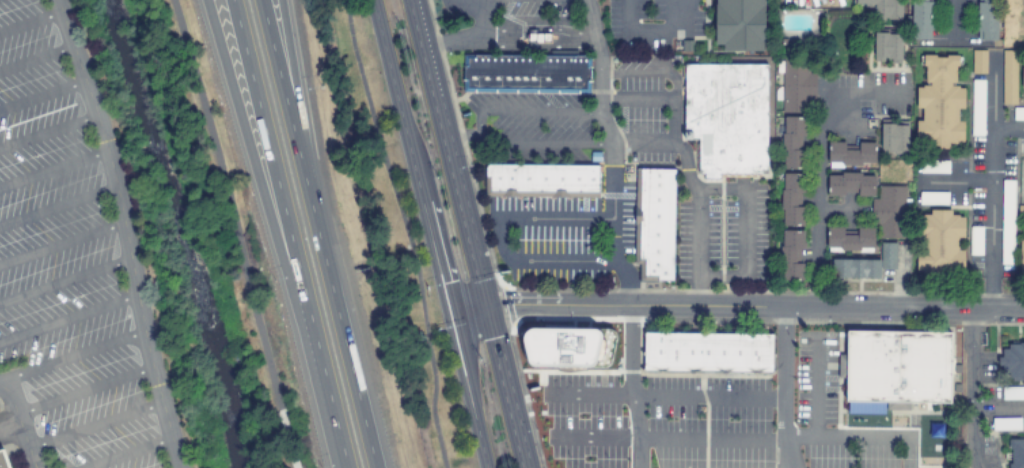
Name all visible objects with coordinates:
building: (881, 8)
road: (29, 20)
building: (920, 20)
building: (984, 20)
building: (739, 24)
road: (538, 29)
road: (472, 38)
building: (538, 39)
road: (538, 47)
building: (886, 47)
road: (36, 60)
building: (979, 61)
building: (526, 73)
building: (1009, 77)
building: (1022, 78)
road: (41, 94)
road: (297, 95)
building: (939, 103)
building: (978, 108)
building: (794, 113)
building: (1018, 113)
building: (727, 117)
road: (478, 130)
road: (46, 131)
road: (464, 136)
building: (893, 138)
building: (850, 155)
building: (934, 166)
road: (52, 168)
building: (541, 180)
building: (850, 185)
building: (933, 198)
building: (792, 200)
road: (226, 204)
road: (56, 206)
building: (1021, 209)
building: (1007, 222)
building: (654, 223)
road: (372, 228)
road: (121, 232)
river: (174, 232)
road: (289, 233)
road: (432, 233)
road: (473, 233)
road: (274, 234)
road: (317, 234)
road: (613, 234)
road: (500, 238)
building: (849, 239)
building: (975, 240)
road: (59, 241)
building: (939, 243)
building: (792, 255)
building: (887, 256)
building: (1021, 258)
parking lot: (67, 263)
building: (854, 269)
road: (63, 281)
building: (973, 281)
road: (738, 306)
road: (67, 317)
building: (563, 346)
building: (707, 352)
road: (71, 356)
building: (1012, 360)
building: (896, 367)
road: (784, 387)
road: (83, 389)
building: (1013, 392)
building: (1006, 423)
road: (93, 424)
road: (19, 425)
parking lot: (677, 429)
road: (287, 438)
road: (124, 453)
building: (1016, 453)
building: (2, 460)

